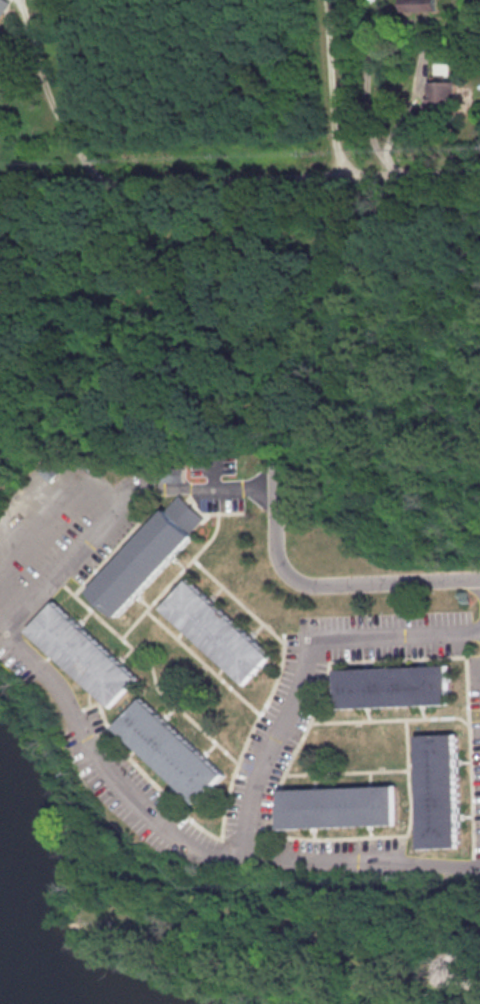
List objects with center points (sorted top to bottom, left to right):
building: (416, 4)
building: (4, 26)
road: (394, 31)
road: (81, 72)
road: (42, 75)
road: (332, 86)
building: (444, 92)
road: (86, 163)
road: (239, 175)
road: (55, 454)
building: (48, 471)
road: (190, 488)
road: (219, 512)
road: (43, 530)
parking lot: (50, 531)
building: (147, 555)
road: (104, 556)
road: (60, 570)
road: (172, 577)
road: (317, 583)
road: (236, 599)
road: (2, 628)
building: (218, 630)
road: (304, 650)
building: (84, 652)
road: (405, 657)
road: (201, 661)
road: (306, 666)
road: (152, 678)
building: (395, 685)
road: (77, 709)
road: (389, 718)
parking lot: (281, 720)
parking lot: (475, 740)
building: (171, 749)
road: (345, 771)
building: (439, 790)
parking lot: (139, 800)
building: (340, 805)
road: (224, 833)
road: (397, 834)
road: (248, 836)
road: (193, 843)
parking lot: (338, 851)
road: (473, 859)
road: (448, 918)
park: (286, 940)
road: (465, 977)
river: (1, 1003)

